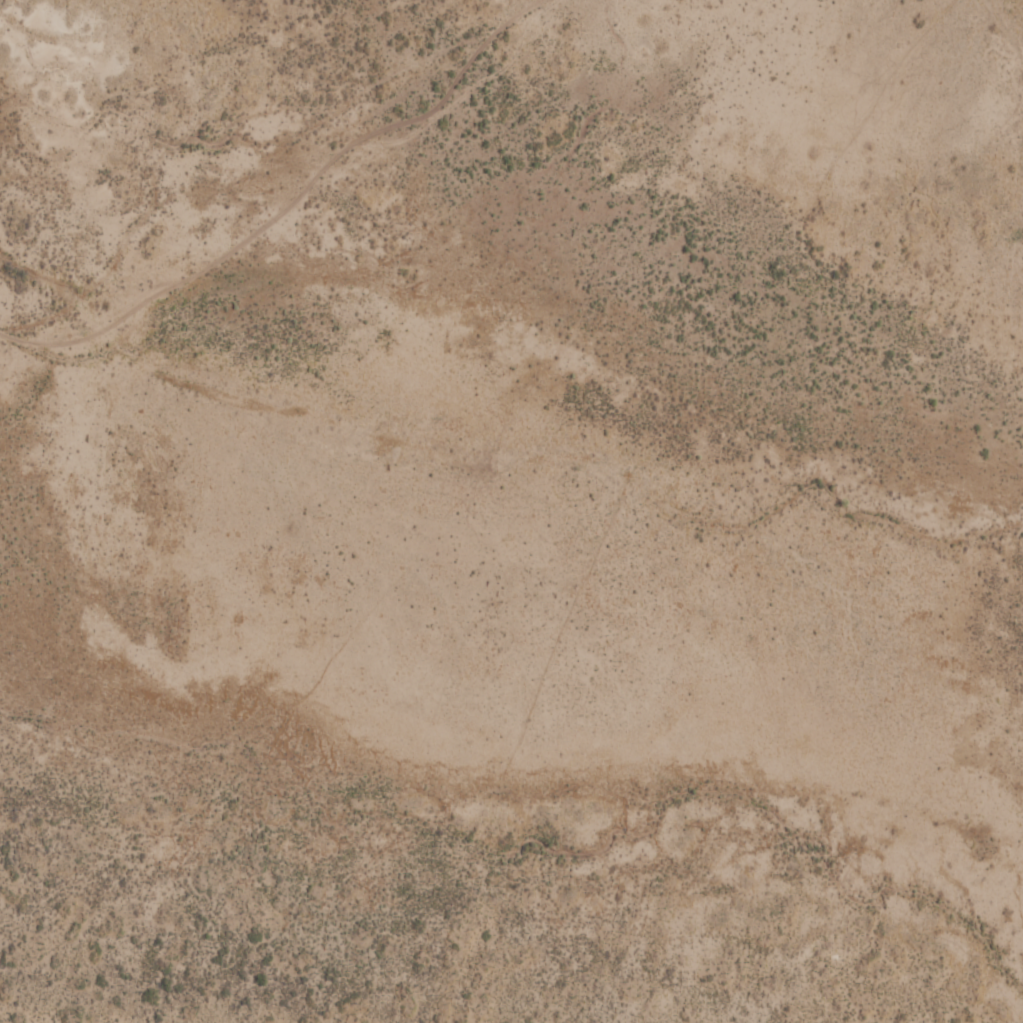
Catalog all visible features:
road: (364, 262)

